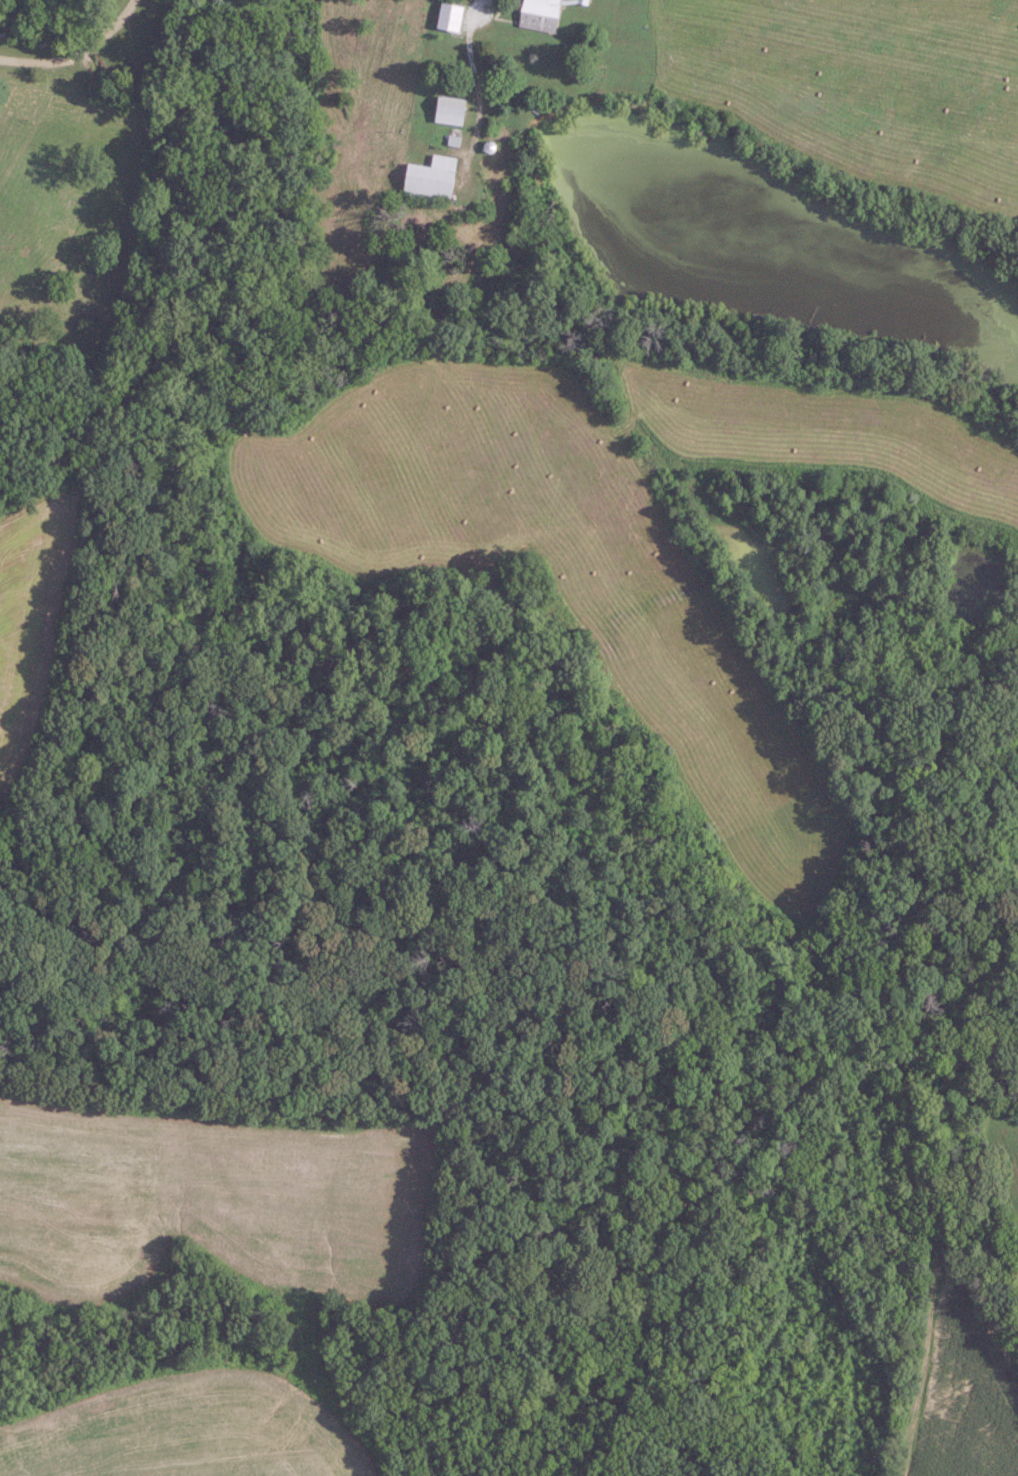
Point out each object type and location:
building: (541, 15)
building: (452, 17)
road: (76, 52)
road: (463, 73)
building: (457, 111)
building: (432, 180)

